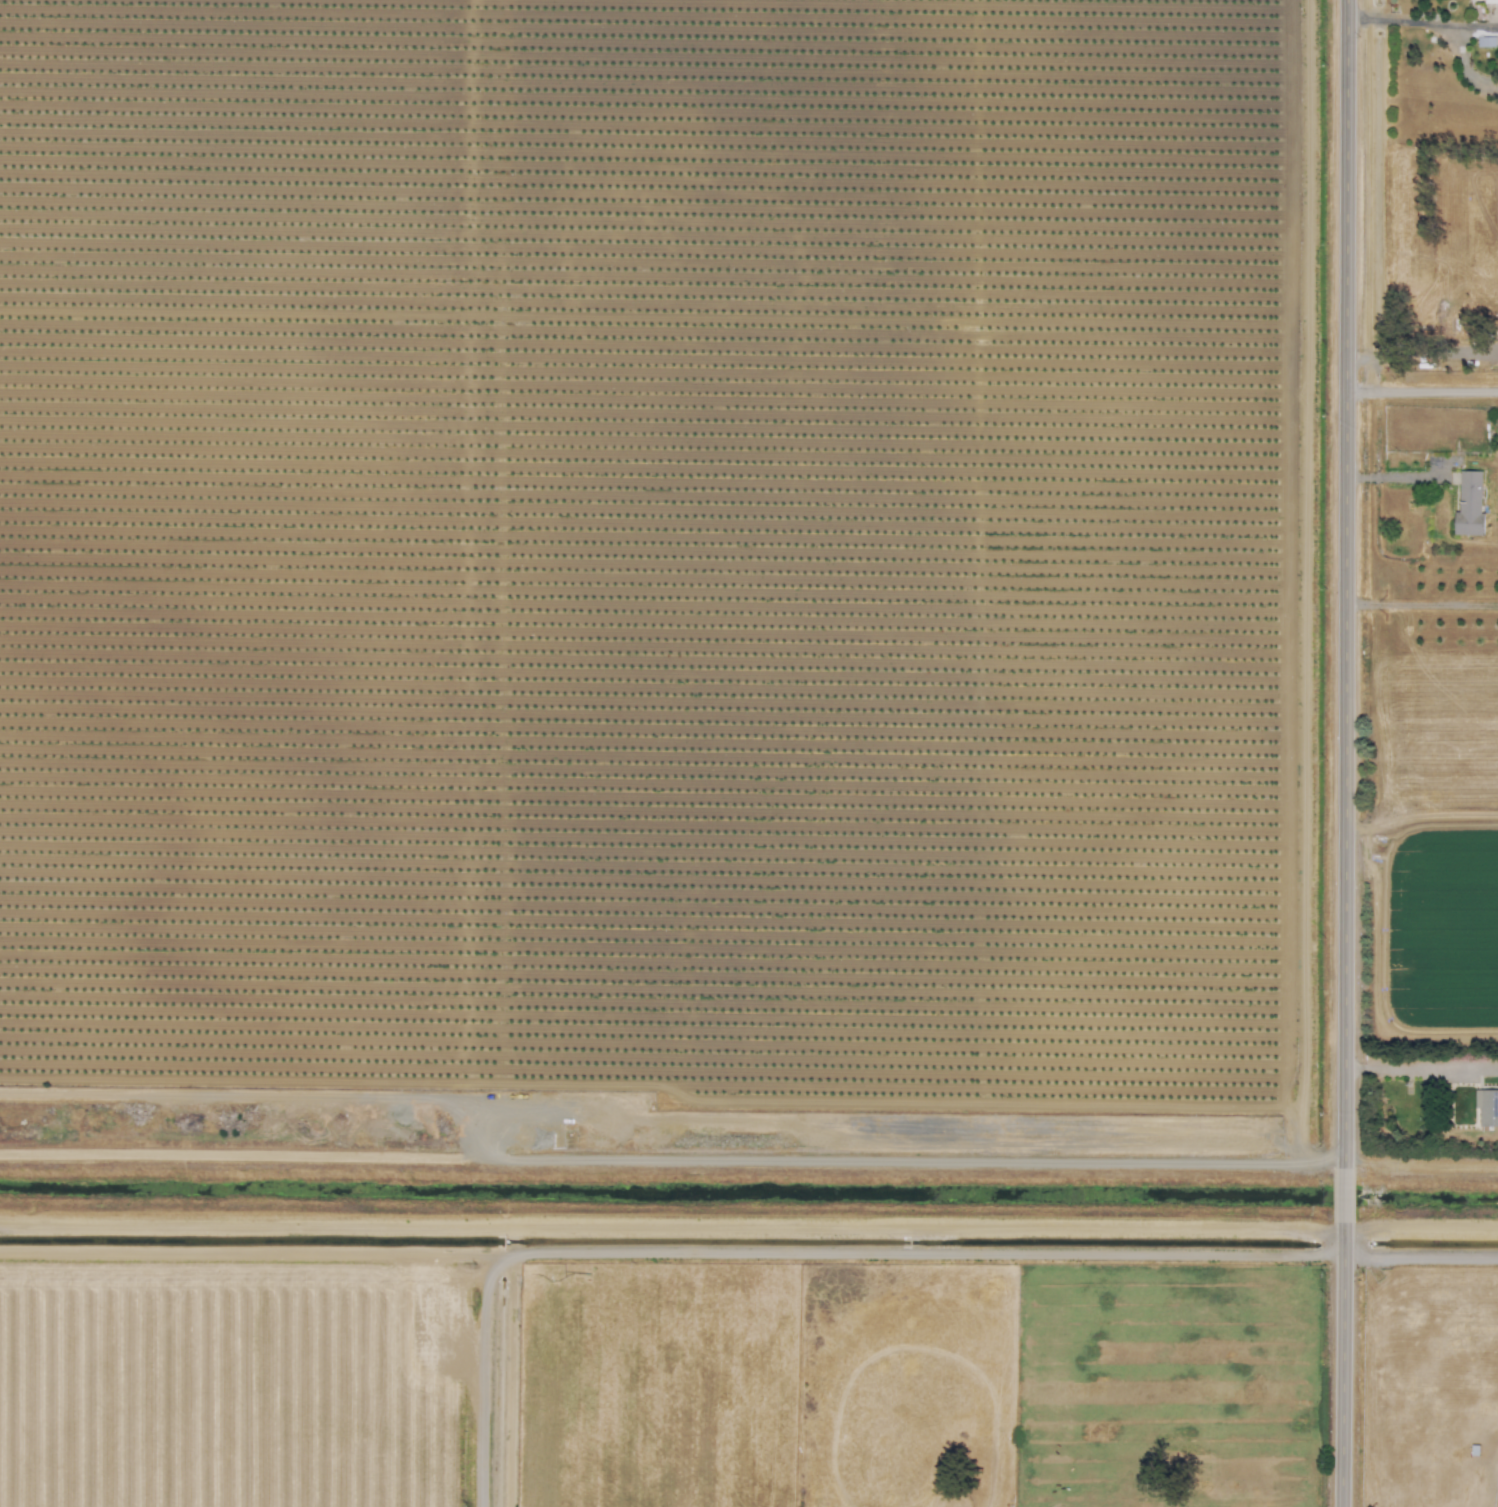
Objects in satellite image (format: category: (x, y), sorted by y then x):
building: (1490, 0)
road: (1419, 22)
building: (1485, 41)
road: (1419, 359)
road: (1419, 391)
road: (1403, 477)
building: (1469, 504)
road: (1341, 582)
road: (1419, 604)
road: (1418, 1073)
building: (1487, 1107)
road: (655, 1110)
road: (752, 1160)
road: (1337, 1192)
road: (749, 1234)
road: (794, 1254)
road: (257, 1255)
road: (1418, 1255)
road: (1337, 1363)
road: (510, 1382)

